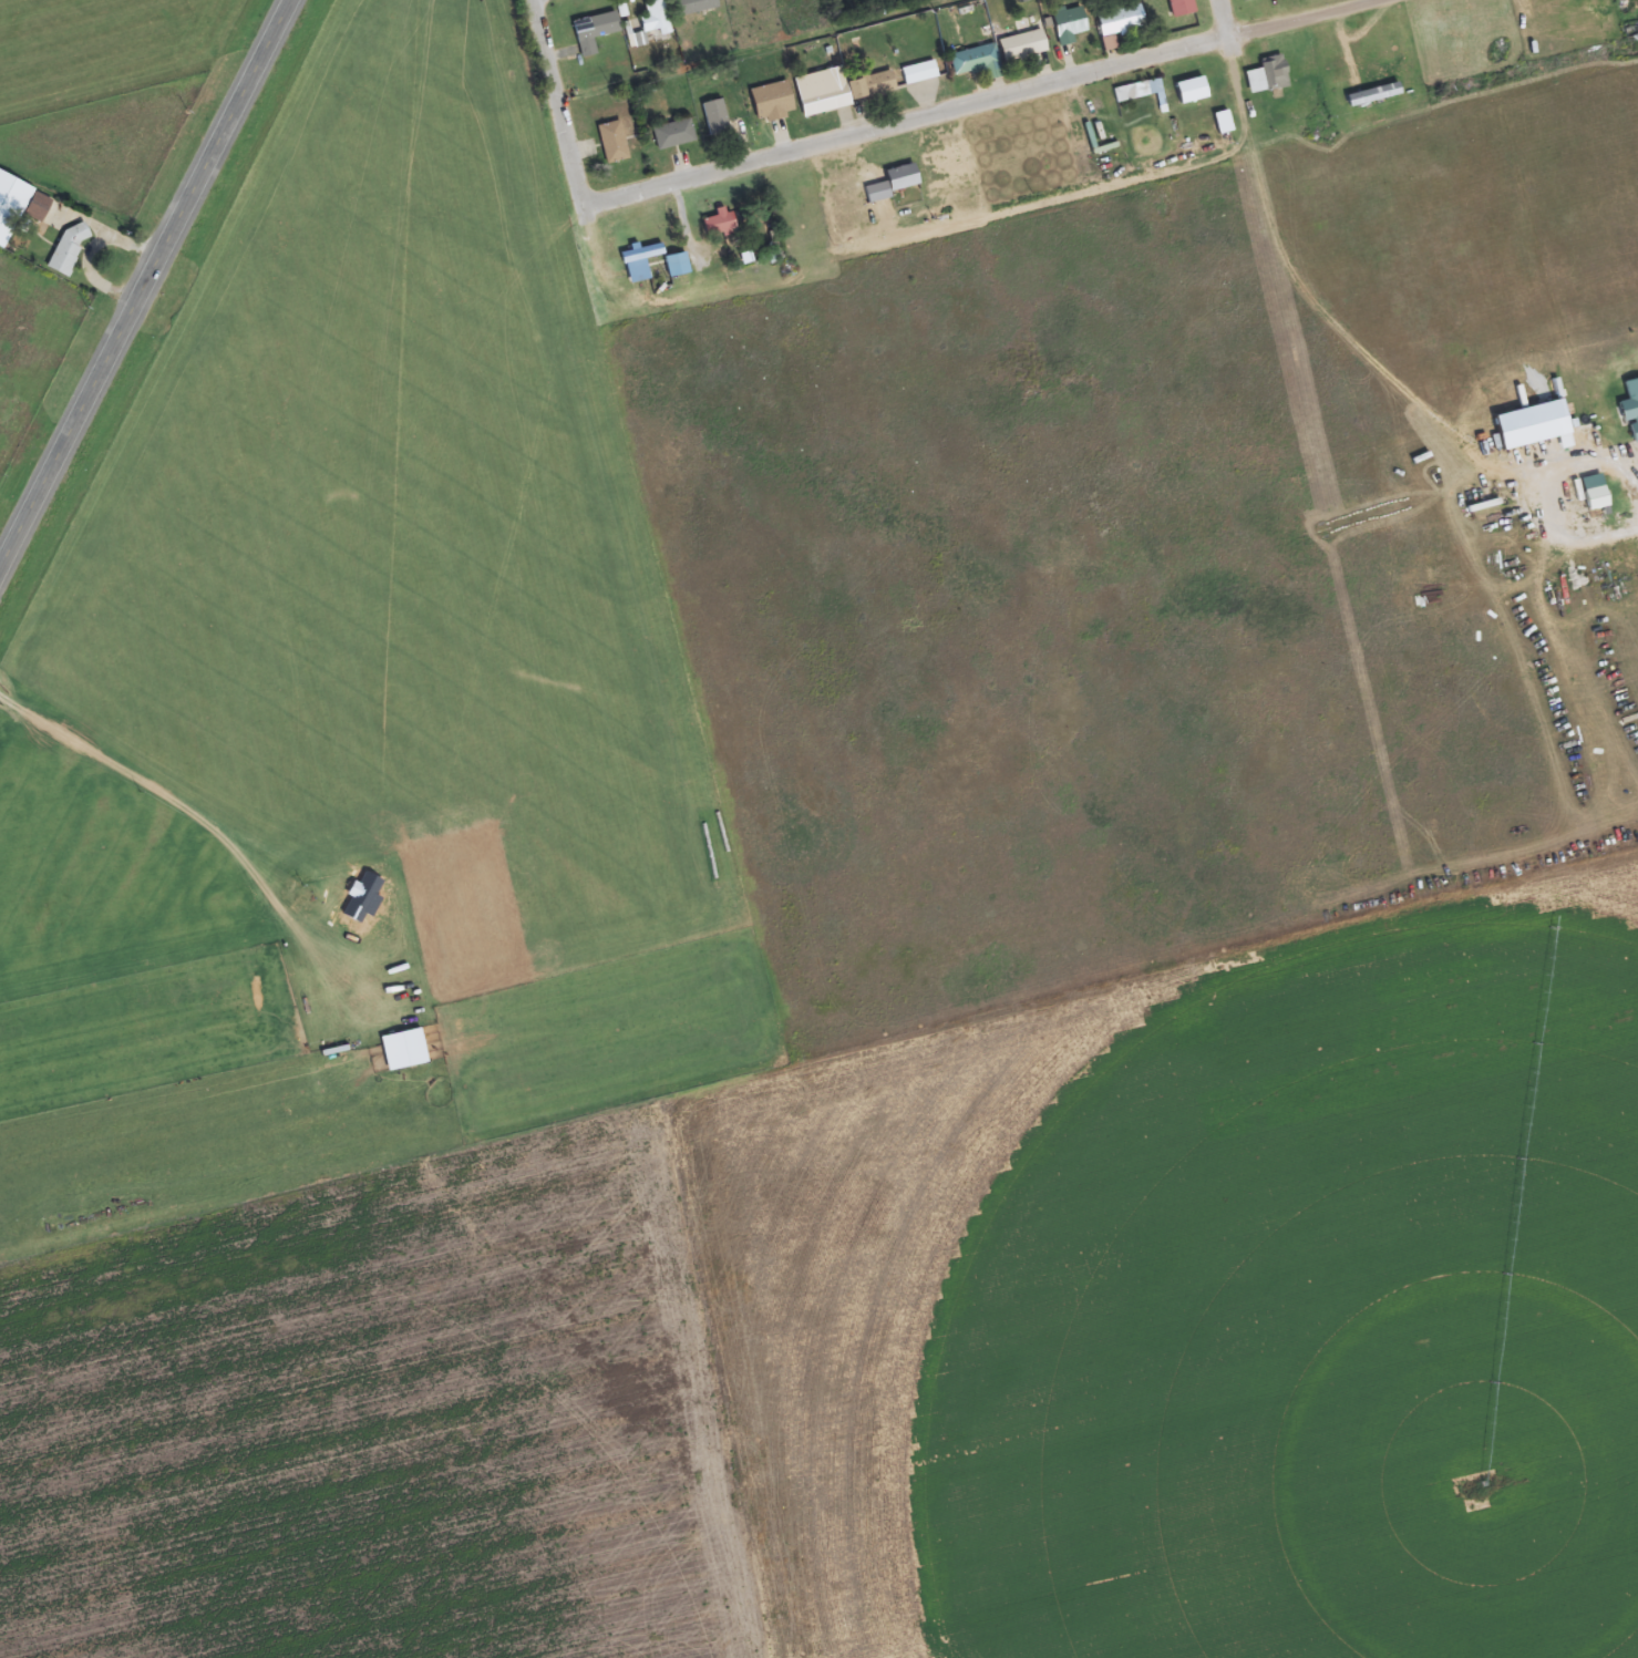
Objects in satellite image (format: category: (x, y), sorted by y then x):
building: (1247, 0)
building: (696, 6)
building: (1182, 7)
building: (656, 16)
road: (1224, 19)
building: (1120, 23)
building: (1071, 25)
building: (595, 31)
building: (1023, 45)
building: (978, 62)
building: (919, 73)
building: (1268, 75)
building: (876, 84)
building: (824, 91)
building: (773, 102)
road: (980, 102)
road: (555, 103)
building: (717, 117)
building: (674, 134)
building: (614, 142)
building: (20, 206)
building: (720, 223)
building: (70, 249)
road: (144, 282)

